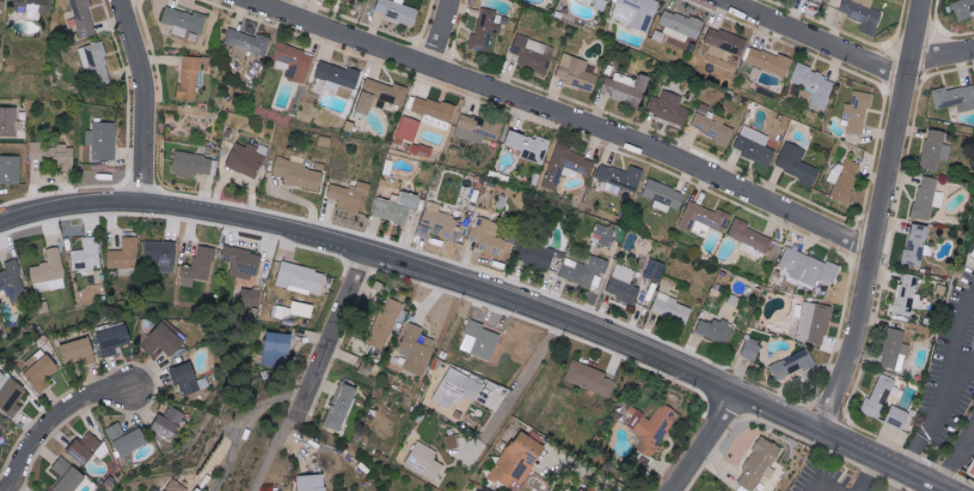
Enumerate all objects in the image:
building: (352, 1)
road: (735, 1)
building: (814, 1)
building: (3, 4)
building: (600, 4)
building: (34, 6)
building: (963, 9)
building: (397, 11)
building: (634, 12)
building: (863, 14)
building: (84, 17)
building: (184, 21)
building: (680, 25)
building: (486, 30)
road: (439, 32)
road: (819, 39)
building: (724, 42)
building: (246, 43)
building: (534, 54)
road: (943, 58)
building: (768, 61)
building: (295, 62)
building: (95, 63)
building: (576, 73)
building: (191, 76)
building: (338, 76)
building: (814, 85)
building: (626, 90)
building: (381, 96)
building: (955, 98)
road: (152, 102)
building: (668, 107)
building: (434, 112)
building: (858, 112)
road: (563, 115)
building: (9, 121)
building: (711, 125)
building: (408, 129)
building: (477, 129)
building: (103, 140)
building: (325, 142)
building: (529, 146)
building: (755, 146)
building: (422, 150)
building: (935, 150)
building: (55, 154)
building: (246, 160)
building: (192, 164)
building: (797, 164)
building: (566, 166)
building: (10, 169)
building: (298, 173)
building: (621, 177)
building: (844, 179)
building: (350, 195)
building: (663, 196)
building: (928, 197)
building: (397, 207)
building: (704, 217)
road: (879, 219)
building: (439, 221)
building: (603, 234)
building: (487, 235)
building: (750, 238)
road: (345, 239)
building: (971, 252)
building: (87, 255)
building: (161, 255)
building: (533, 255)
building: (243, 262)
building: (199, 266)
building: (809, 267)
building: (655, 270)
building: (585, 271)
building: (49, 272)
building: (301, 279)
building: (13, 281)
building: (623, 285)
building: (907, 295)
building: (250, 299)
building: (672, 309)
building: (281, 312)
building: (814, 322)
building: (384, 325)
building: (715, 331)
building: (113, 339)
building: (165, 340)
building: (480, 340)
building: (278, 348)
building: (751, 349)
building: (417, 350)
building: (894, 350)
building: (79, 351)
road: (952, 353)
building: (793, 365)
building: (40, 368)
building: (367, 368)
road: (324, 370)
road: (521, 378)
building: (189, 379)
building: (591, 379)
road: (954, 385)
building: (458, 388)
building: (10, 394)
building: (879, 396)
building: (343, 406)
building: (898, 418)
road: (245, 421)
road: (61, 422)
building: (169, 423)
building: (653, 427)
road: (807, 428)
building: (127, 439)
building: (452, 442)
road: (917, 442)
road: (706, 444)
building: (87, 449)
road: (955, 457)
building: (518, 460)
building: (425, 461)
building: (760, 464)
building: (970, 468)
road: (583, 473)
road: (863, 475)
building: (67, 476)
road: (818, 476)
building: (318, 482)
building: (179, 486)
building: (478, 490)
building: (582, 490)

